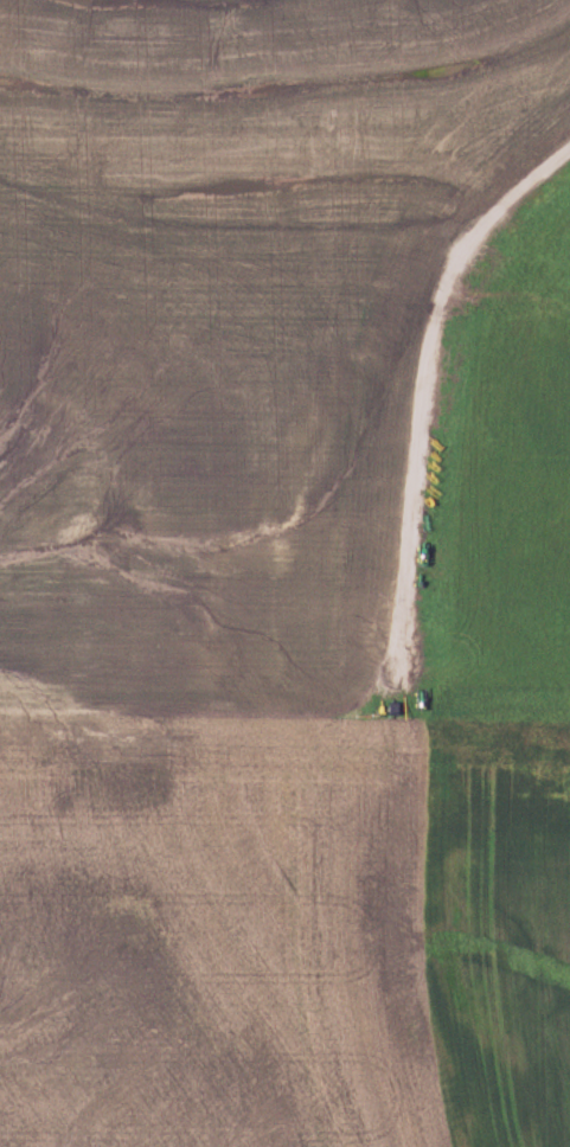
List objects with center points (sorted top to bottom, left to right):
crop: (248, 328)

